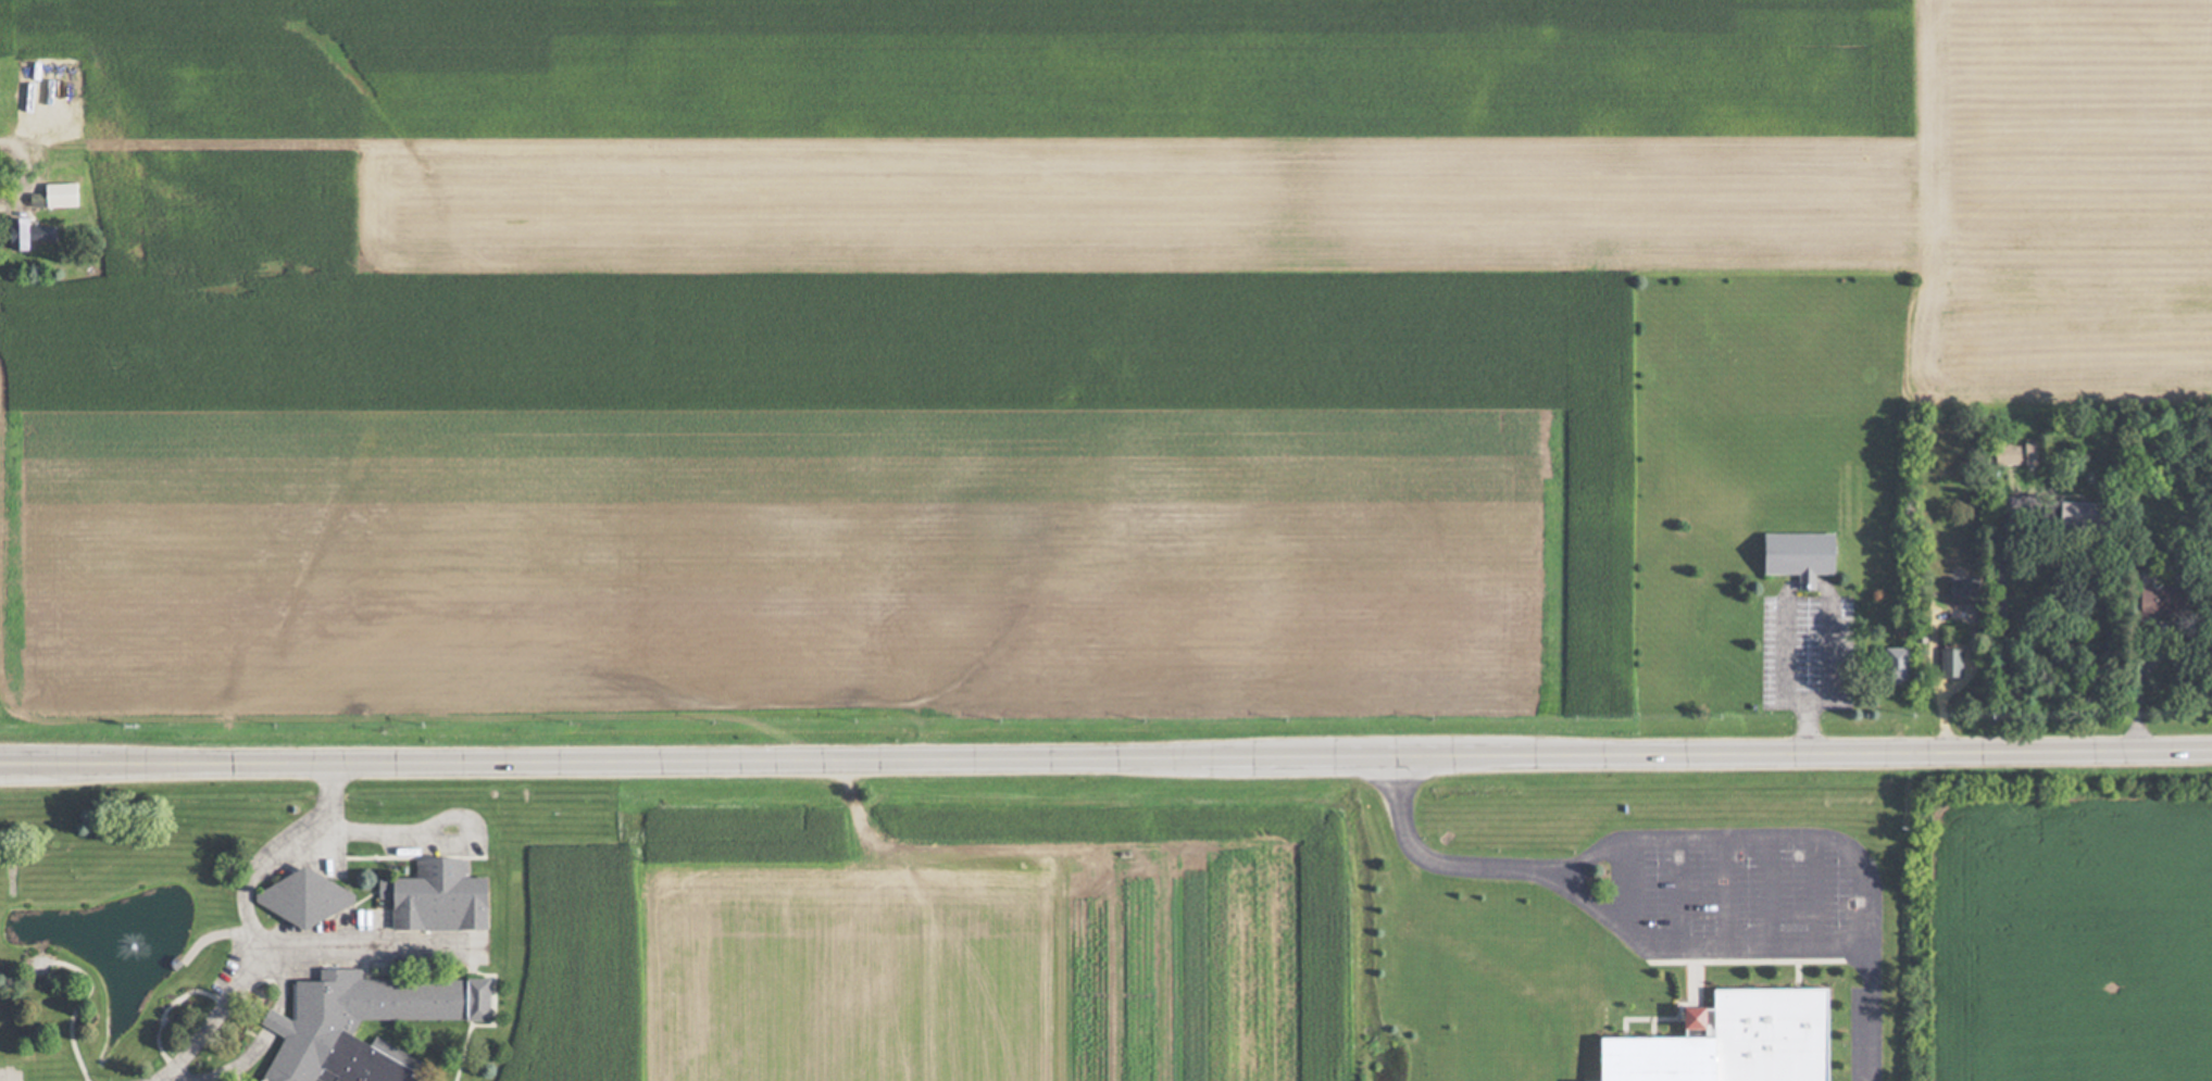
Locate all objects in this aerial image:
building: (41, 90)
road: (28, 141)
building: (36, 236)
building: (2012, 455)
building: (2067, 513)
building: (1794, 556)
building: (1960, 589)
building: (2145, 602)
road: (1825, 651)
building: (1945, 663)
building: (1885, 664)
road: (1784, 671)
road: (1105, 754)
parking lot: (1746, 887)
road: (1629, 890)
road: (1770, 894)
road: (1813, 894)
road: (1678, 895)
road: (1725, 895)
building: (440, 897)
building: (307, 900)
road: (249, 918)
road: (360, 944)
road: (1782, 951)
road: (1869, 1016)
building: (315, 1028)
building: (1727, 1043)

